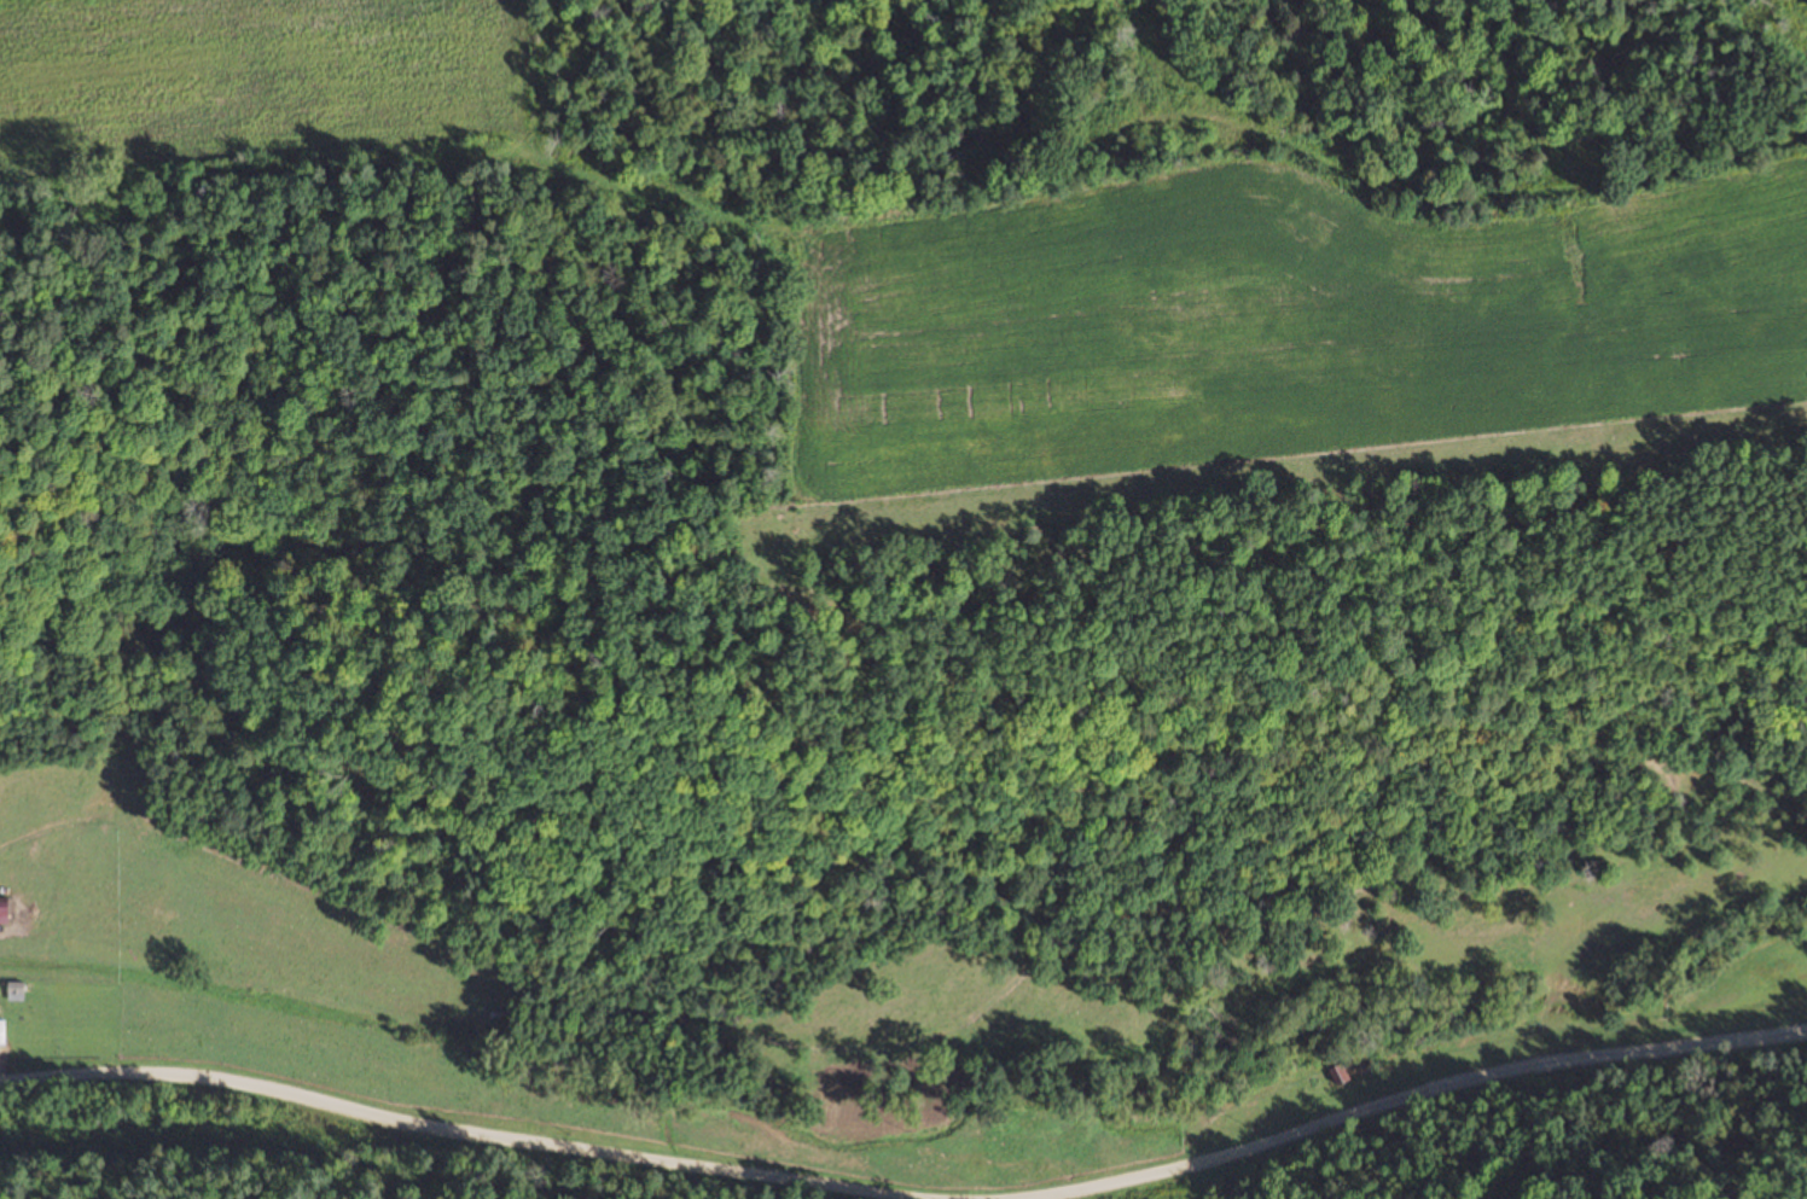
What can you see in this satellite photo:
building: (2, 904)
building: (1785, 966)
road: (569, 1072)
building: (1338, 1076)
road: (1414, 1095)
road: (448, 1135)

